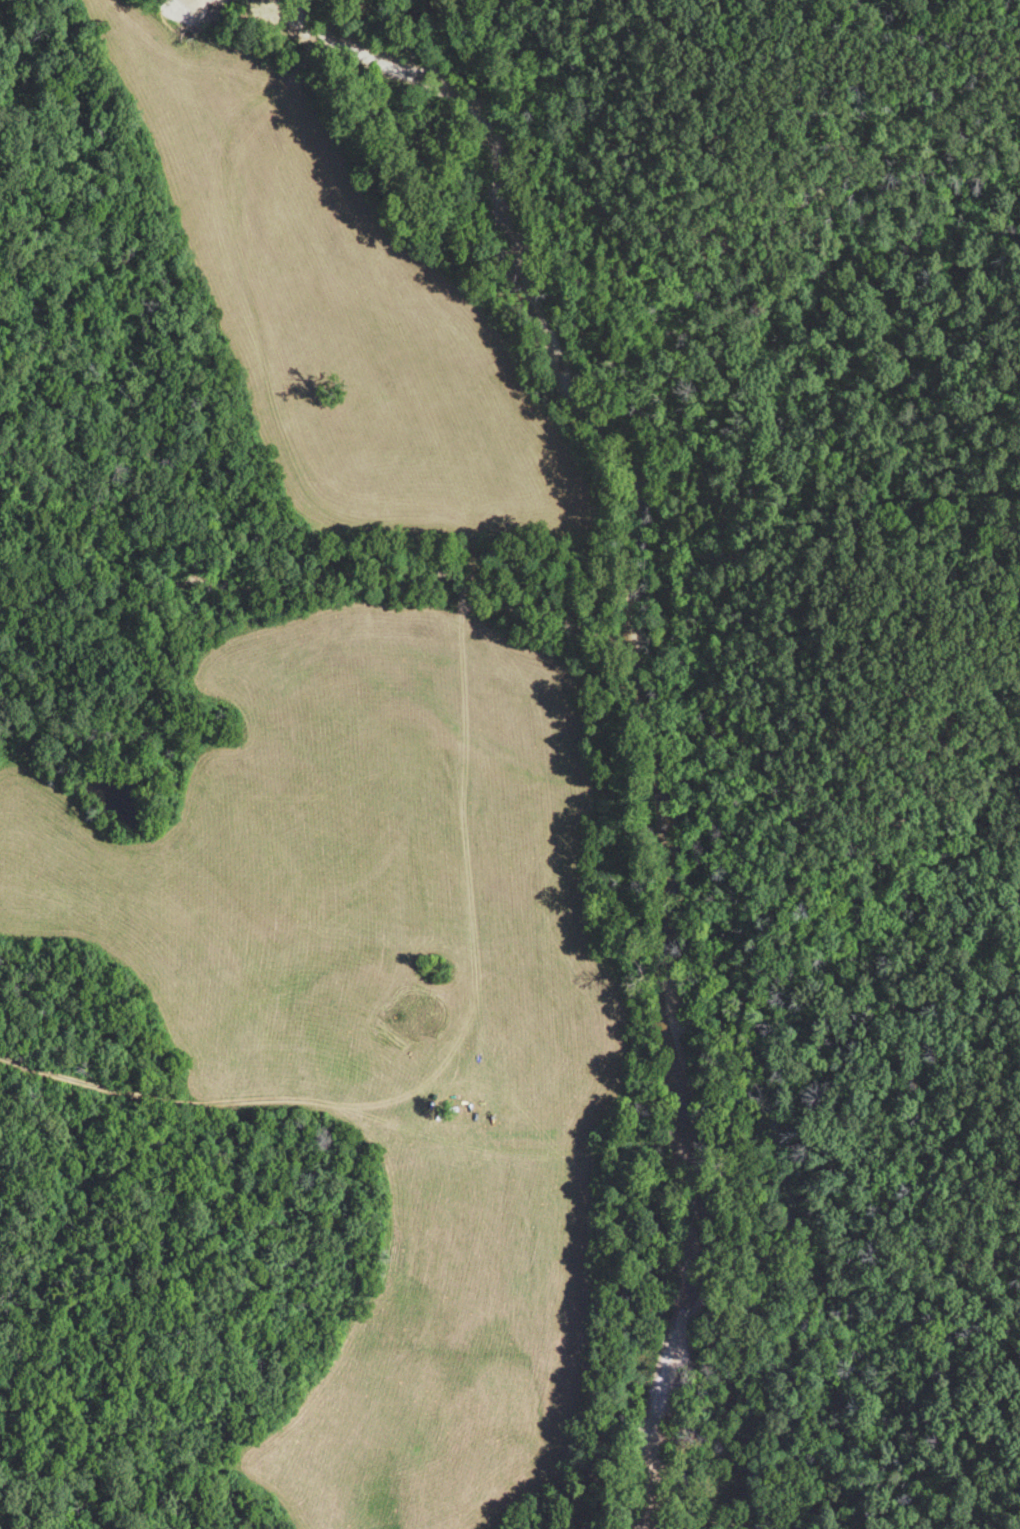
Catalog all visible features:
road: (271, 1096)

